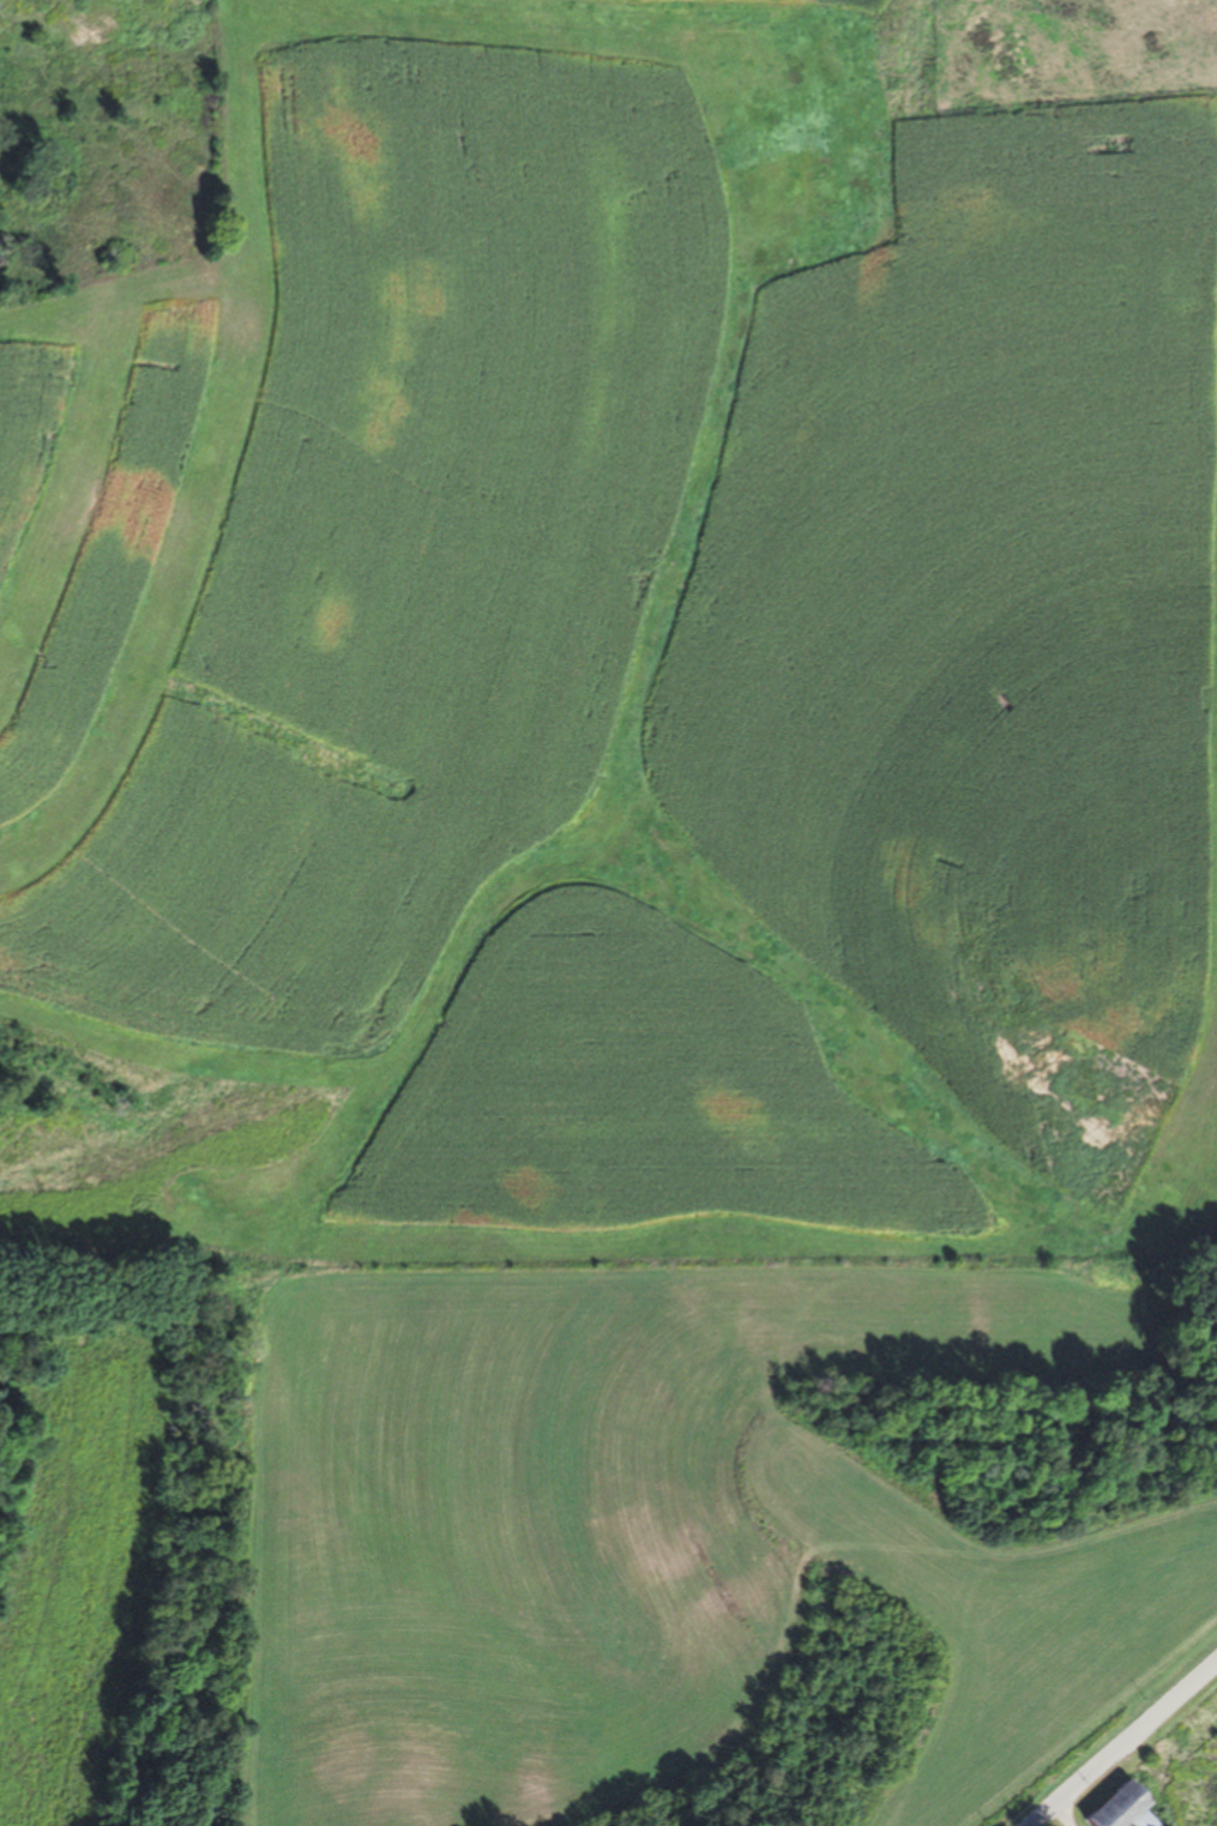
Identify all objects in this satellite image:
road: (1122, 1744)
building: (1121, 1808)

